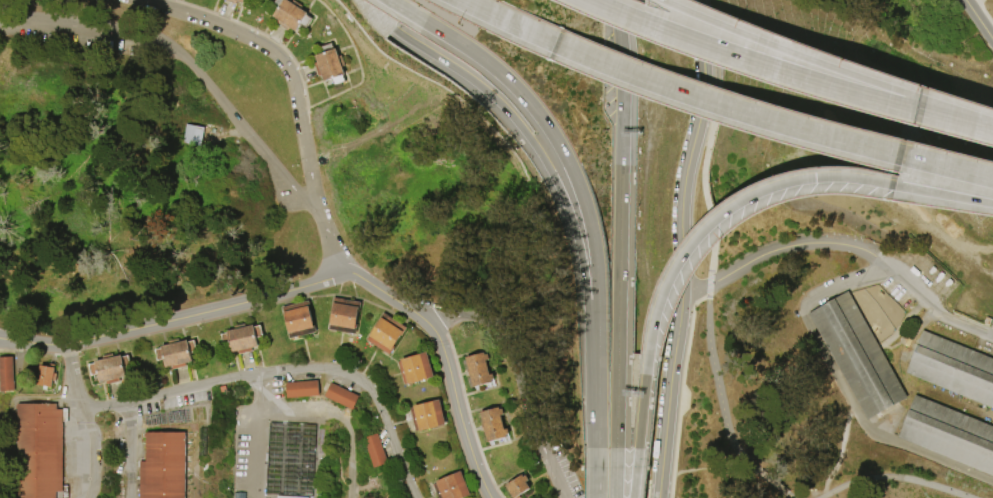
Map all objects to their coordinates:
building: (230, 1)
building: (239, 1)
road: (665, 2)
road: (984, 13)
building: (288, 15)
road: (510, 21)
road: (978, 21)
road: (617, 43)
road: (786, 51)
road: (747, 62)
building: (328, 64)
road: (190, 65)
road: (298, 94)
road: (916, 96)
road: (724, 106)
road: (918, 112)
road: (959, 112)
road: (957, 122)
building: (190, 135)
road: (691, 146)
road: (899, 154)
road: (947, 166)
traffic signals: (815, 178)
park: (975, 181)
road: (892, 184)
road: (579, 191)
road: (944, 193)
road: (566, 210)
road: (726, 210)
road: (714, 239)
road: (785, 248)
park: (496, 249)
road: (617, 277)
road: (937, 312)
building: (345, 316)
road: (177, 319)
building: (300, 320)
building: (387, 334)
building: (243, 339)
road: (509, 340)
building: (177, 354)
building: (855, 355)
road: (446, 365)
road: (315, 368)
building: (952, 368)
building: (111, 369)
building: (417, 369)
building: (479, 370)
building: (7, 374)
building: (47, 376)
road: (75, 379)
road: (840, 384)
building: (303, 390)
road: (666, 395)
building: (342, 396)
road: (262, 404)
road: (278, 411)
road: (640, 411)
building: (429, 417)
road: (81, 425)
building: (494, 425)
building: (948, 434)
road: (351, 447)
road: (135, 448)
building: (41, 451)
building: (376, 452)
road: (258, 455)
building: (269, 458)
road: (549, 464)
building: (164, 466)
road: (879, 475)
road: (598, 482)
road: (614, 482)
road: (770, 482)
road: (634, 483)
building: (453, 487)
building: (518, 487)

